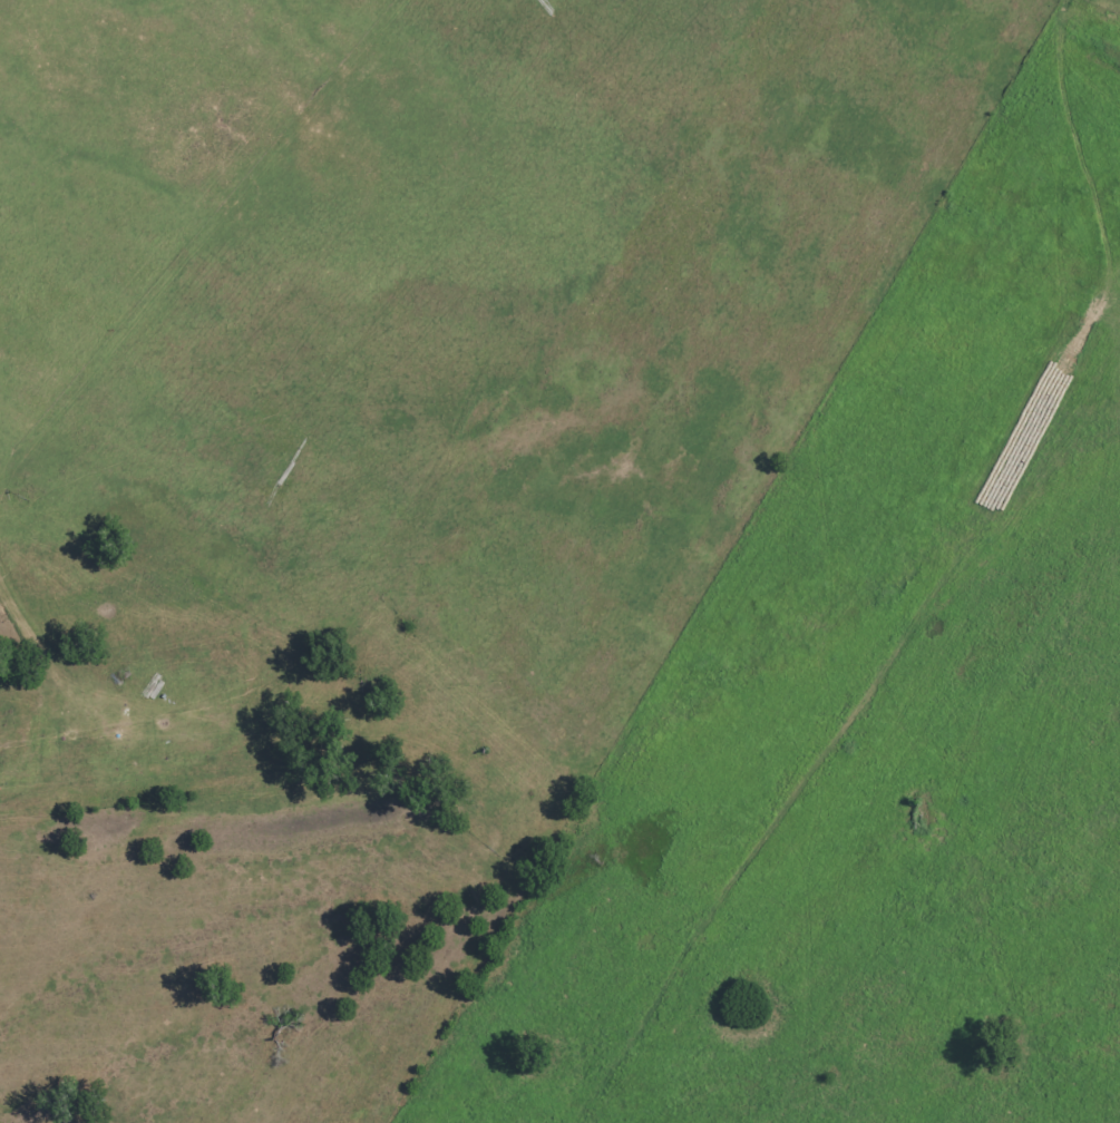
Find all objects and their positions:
road: (31, 627)

